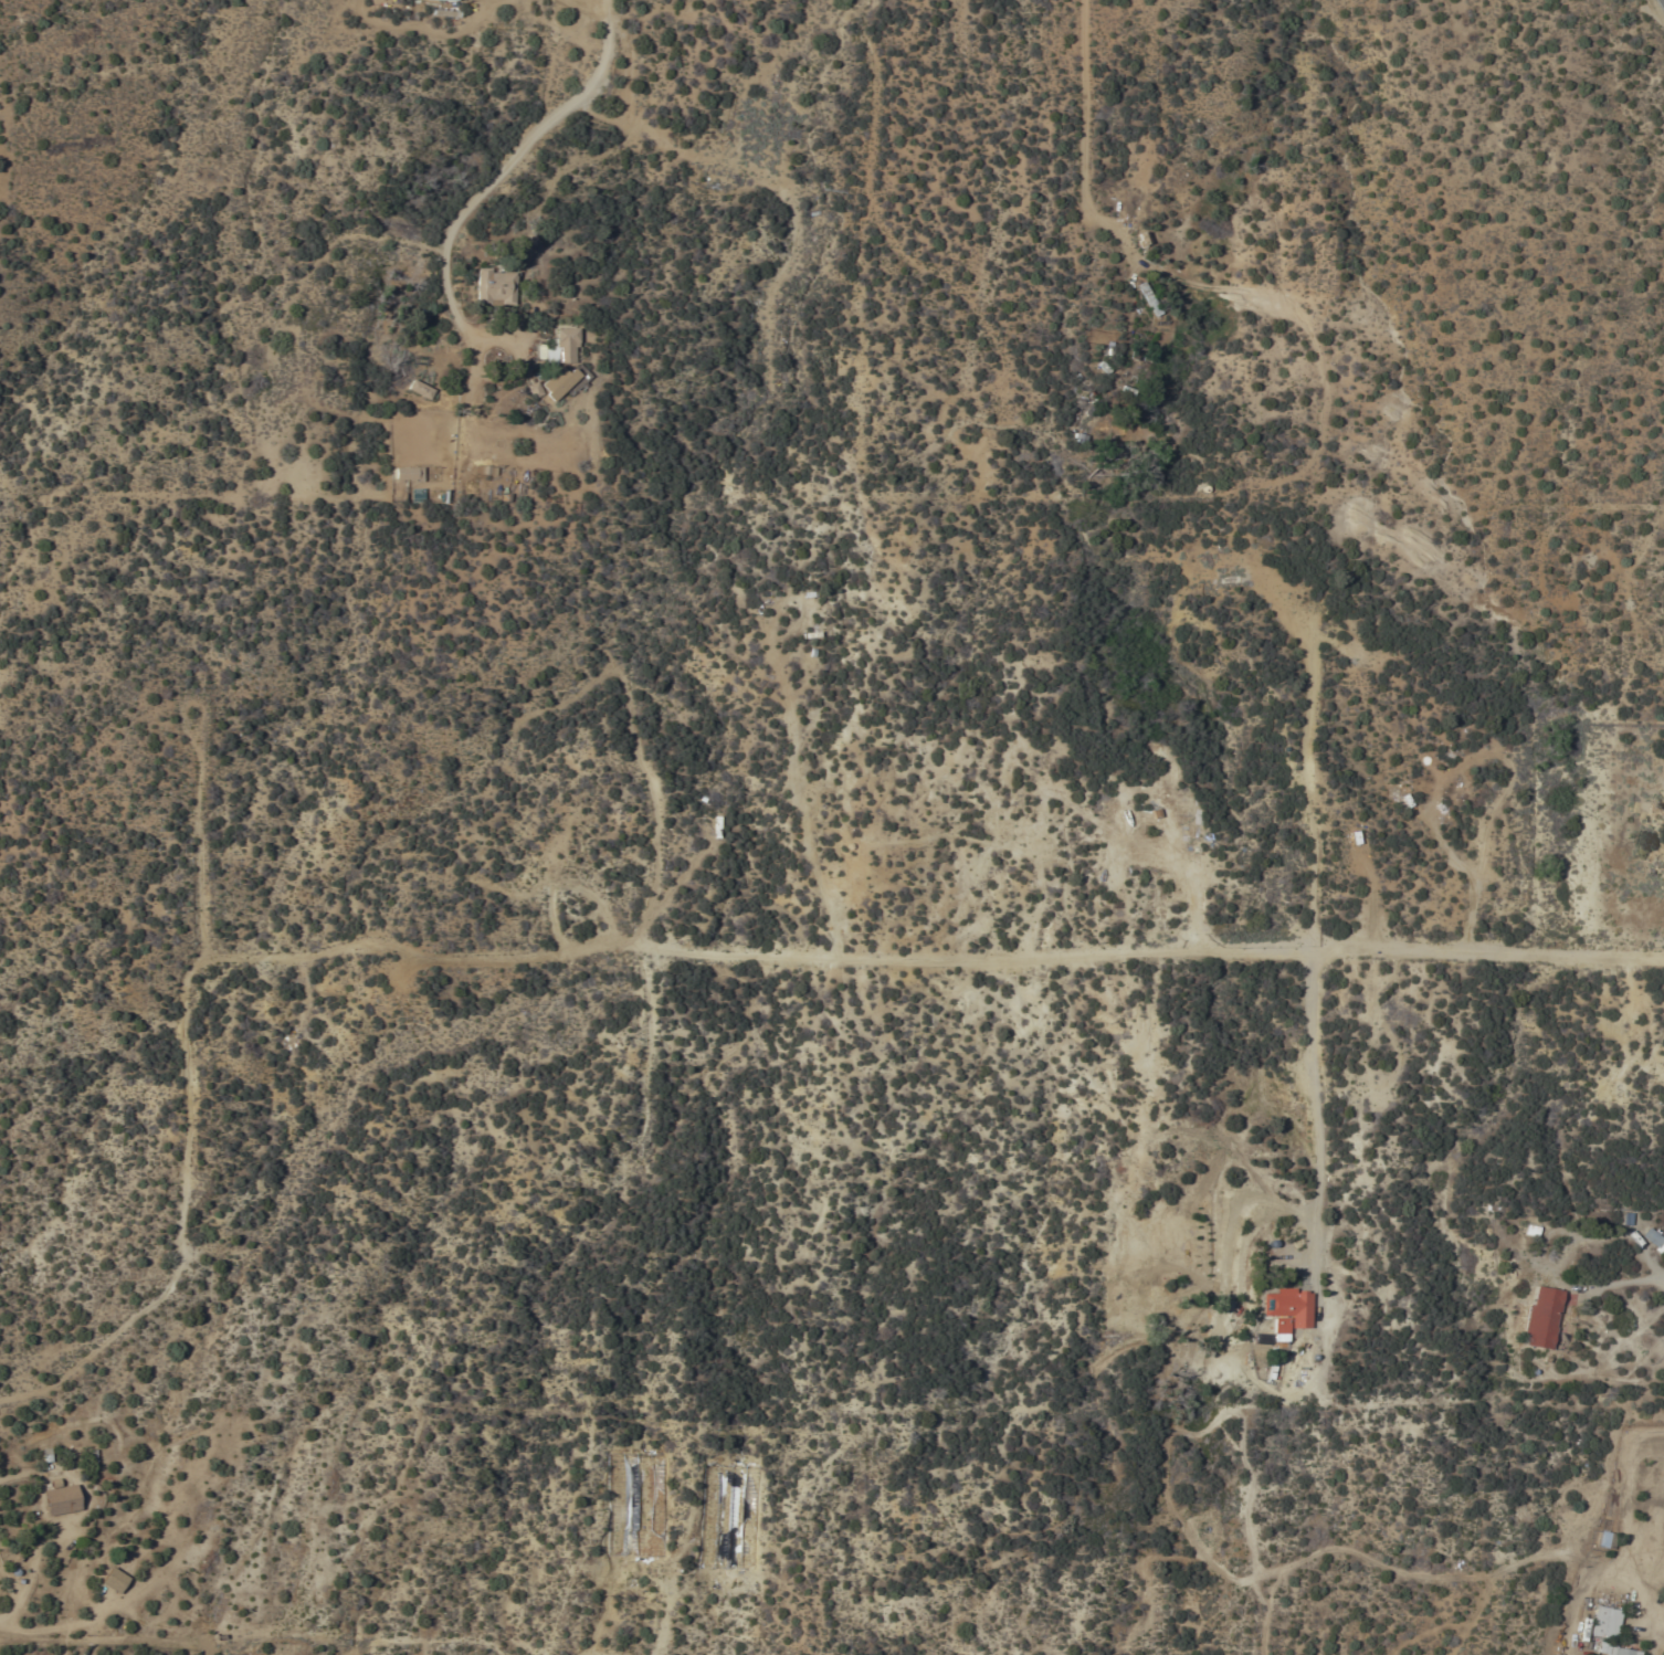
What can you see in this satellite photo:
building: (449, 0)
road: (1661, 2)
road: (1085, 133)
road: (476, 202)
building: (495, 286)
building: (1147, 299)
building: (558, 348)
building: (558, 382)
building: (420, 389)
building: (534, 389)
building: (485, 470)
building: (407, 473)
building: (417, 495)
road: (1489, 952)
road: (977, 961)
road: (187, 1008)
road: (1316, 1115)
building: (1652, 1240)
building: (1287, 1307)
building: (1541, 1317)
building: (1278, 1326)
building: (61, 1498)
building: (1604, 1541)
building: (114, 1580)
road: (32, 1581)
building: (1604, 1622)
building: (1611, 1651)

